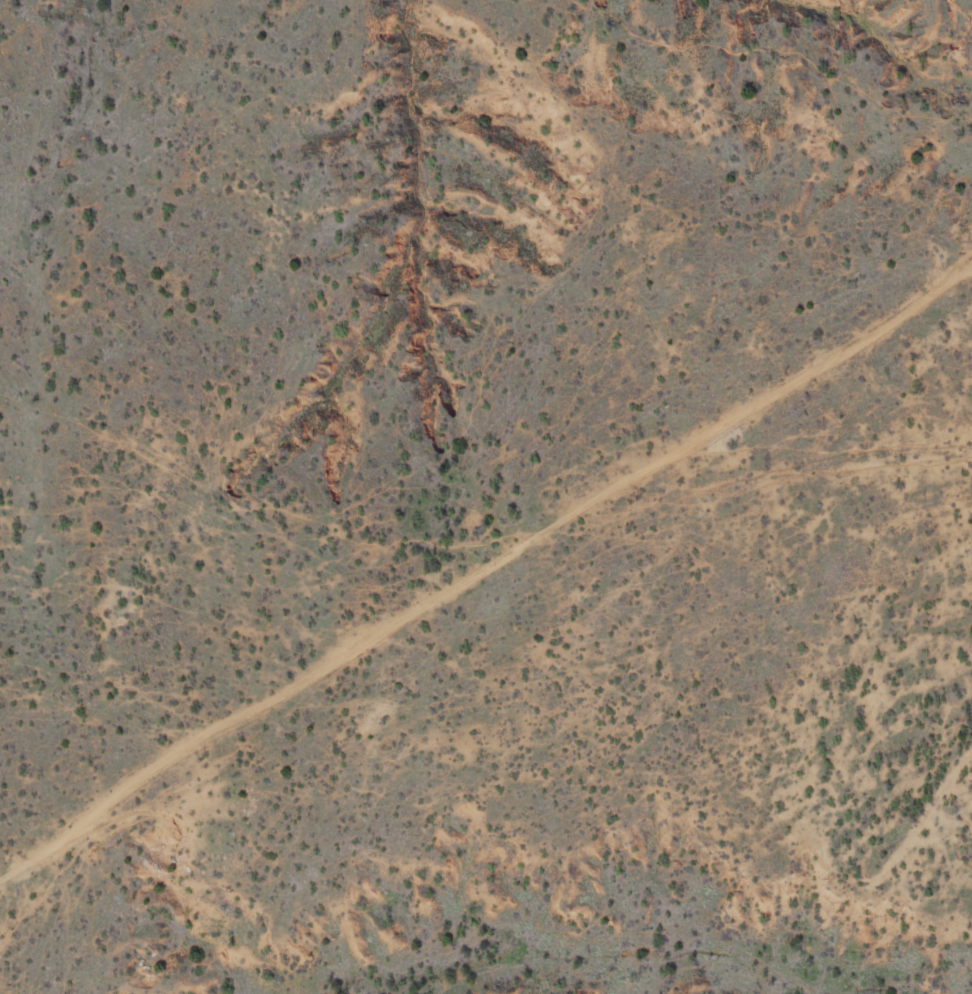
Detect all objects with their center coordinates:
road: (462, 577)

